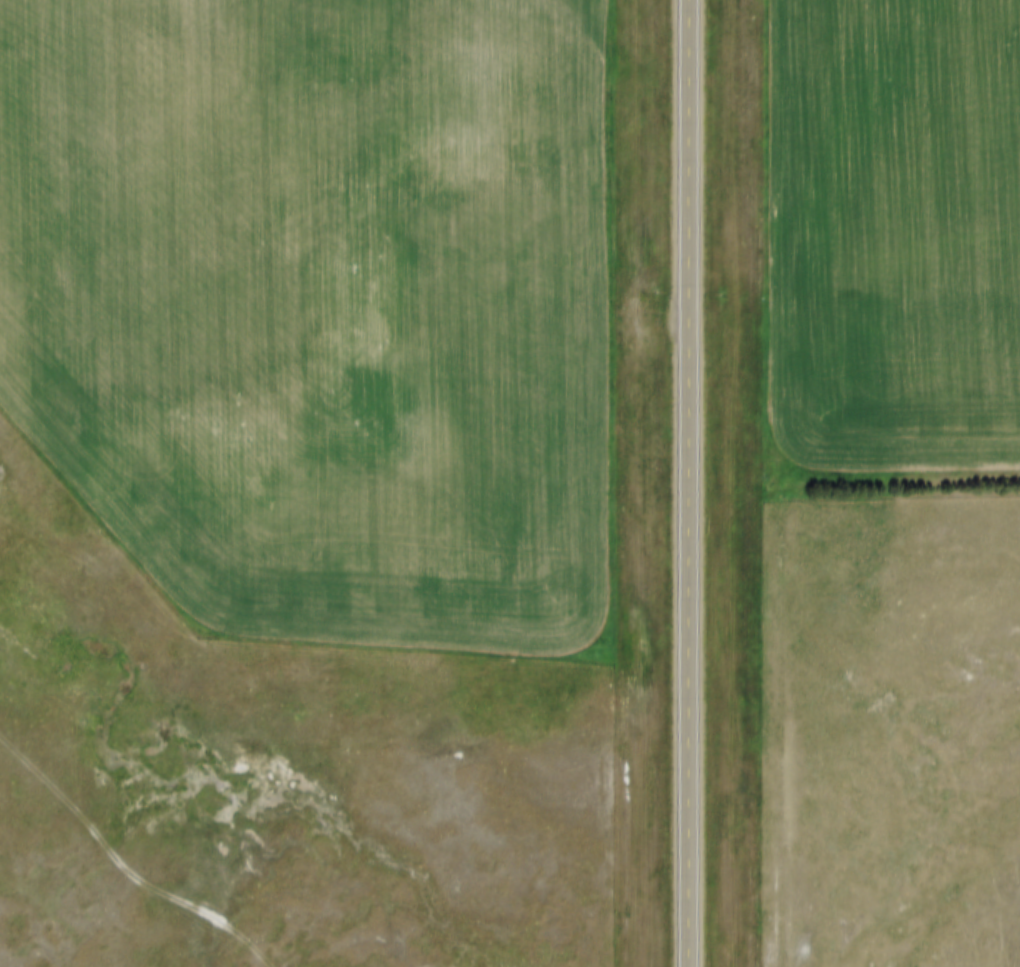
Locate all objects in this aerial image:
road: (691, 483)
road: (121, 867)

